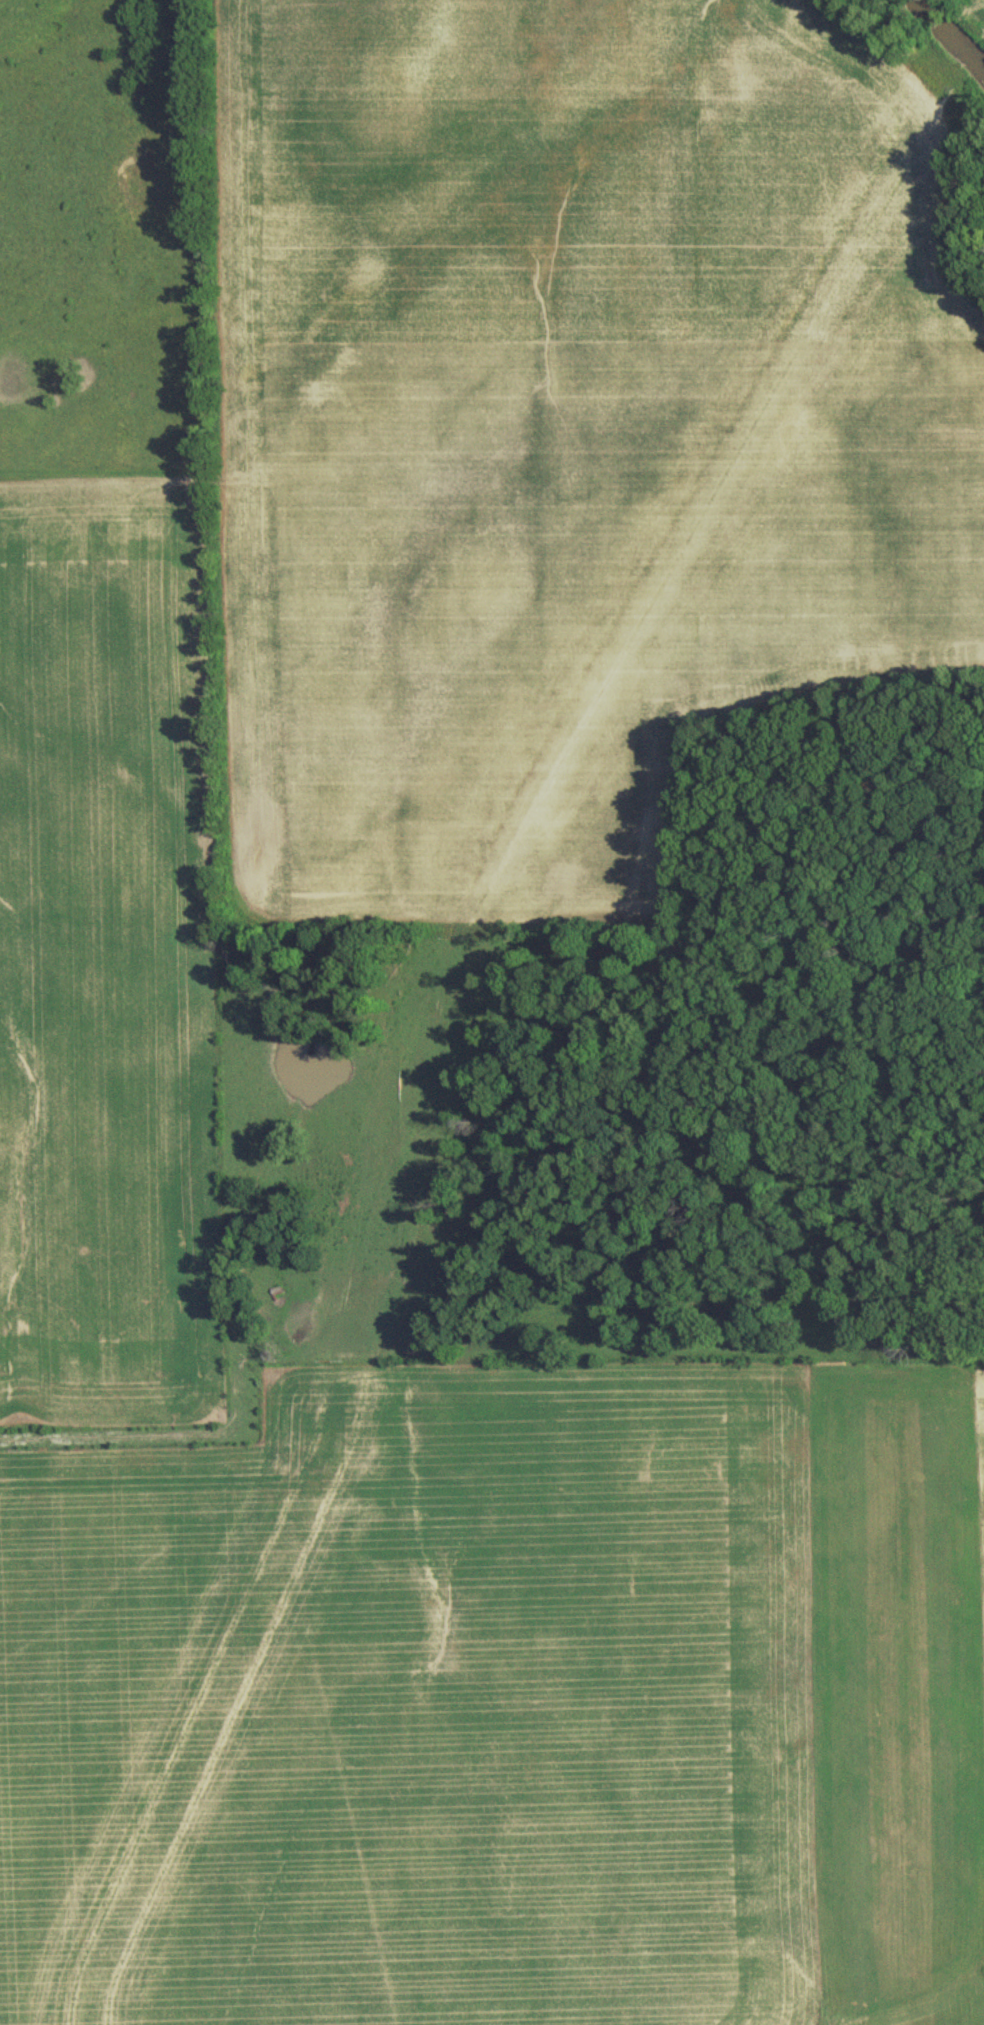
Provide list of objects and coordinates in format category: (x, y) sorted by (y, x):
river: (942, 37)

